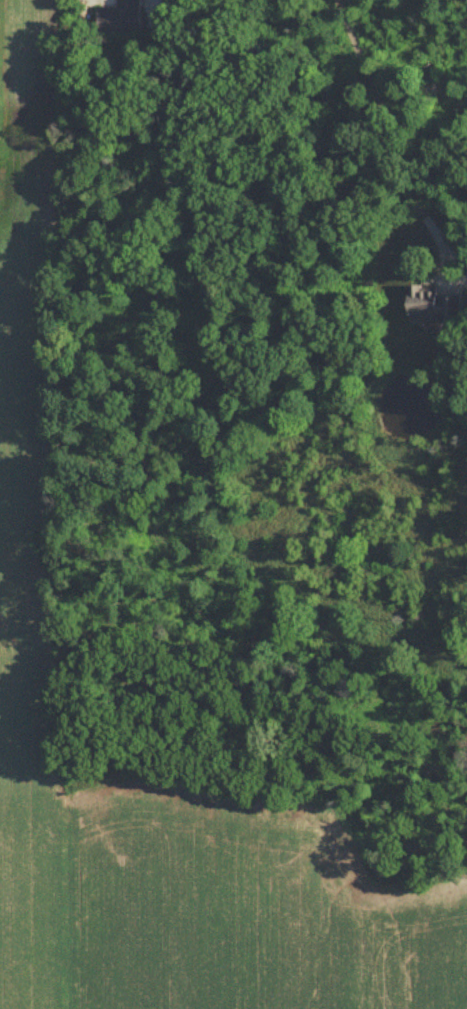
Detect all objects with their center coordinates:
building: (124, 21)
road: (387, 144)
building: (435, 305)

